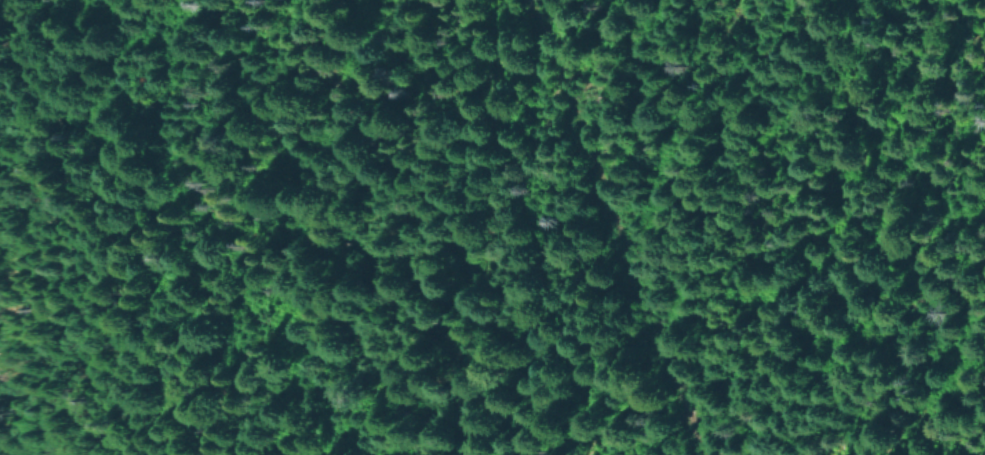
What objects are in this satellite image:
road: (612, 226)

